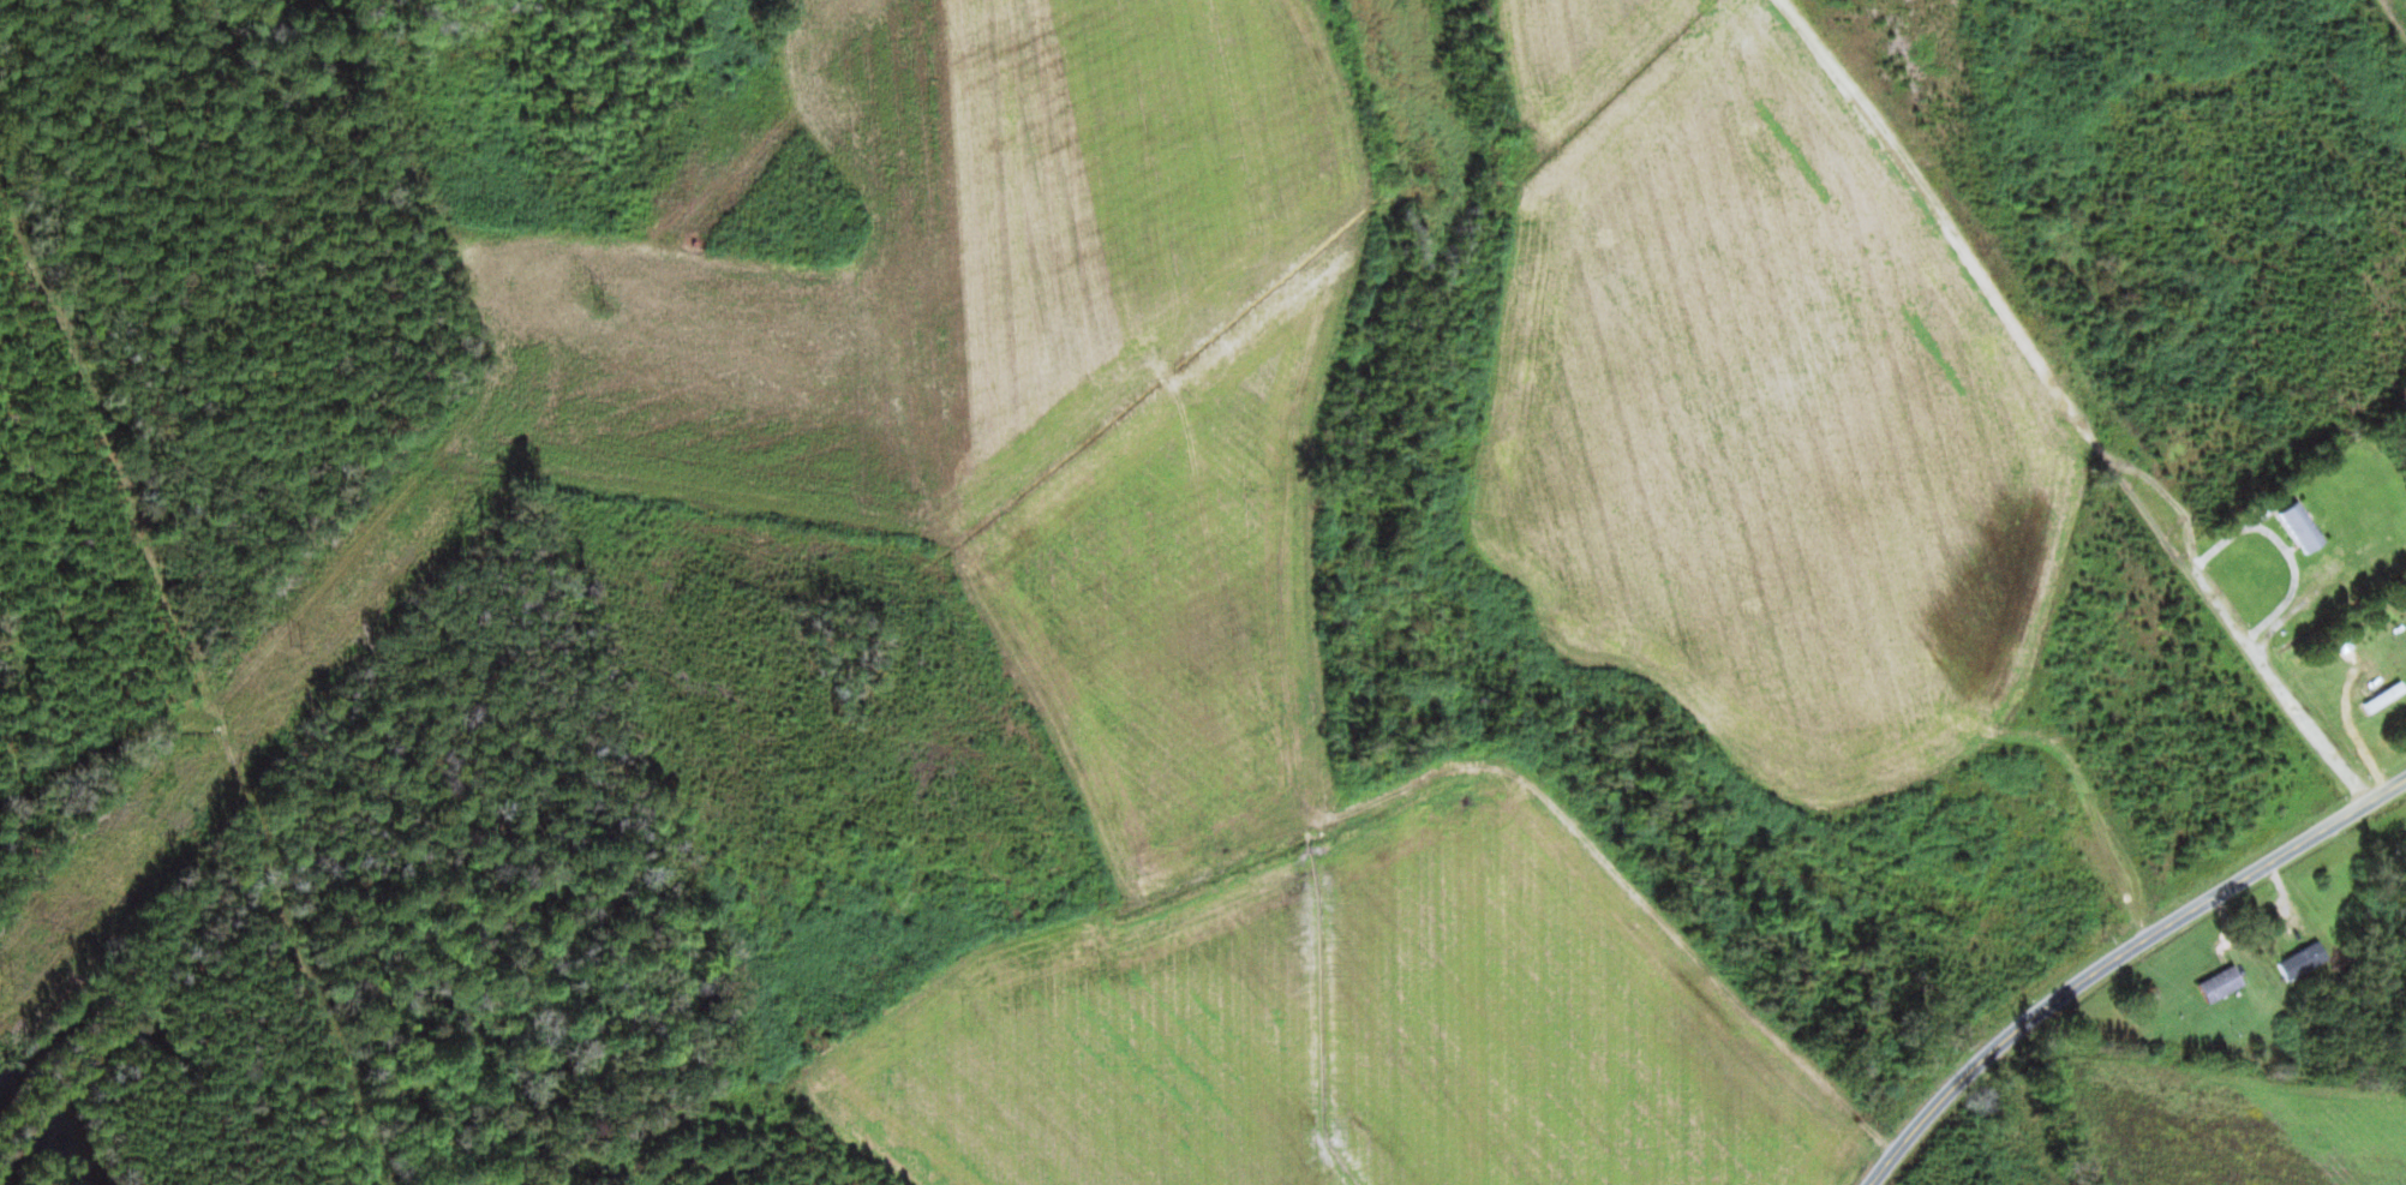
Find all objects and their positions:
road: (2402, 137)
power tower: (599, 303)
building: (2305, 527)
power tower: (300, 648)
road: (1324, 827)
road: (2118, 958)
building: (2305, 962)
power tower: (10, 978)
building: (2225, 984)
road: (2285, 1048)

